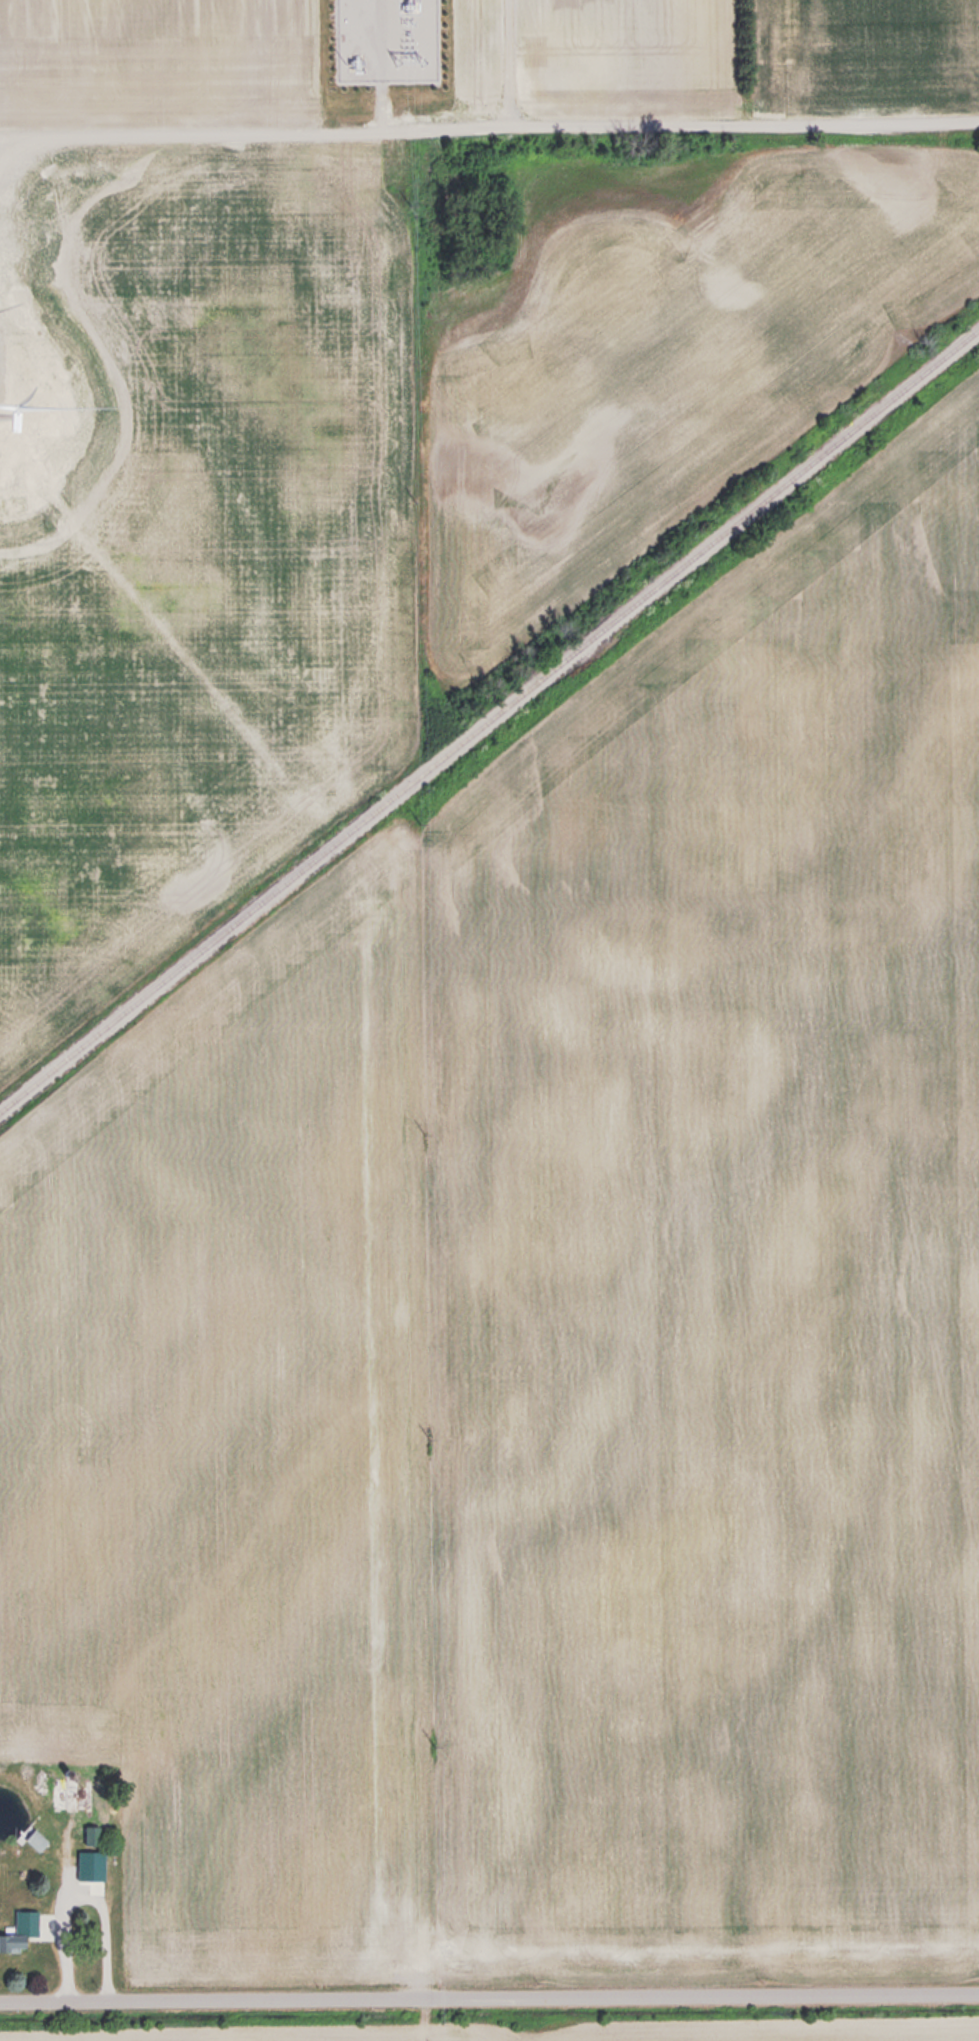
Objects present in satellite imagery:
power substation: (386, 39)
road: (511, 60)
road: (381, 100)
road: (489, 121)
power tower: (408, 199)
power tower: (411, 491)
railway: (489, 720)
power tower: (415, 814)
power tower: (422, 1128)
power tower: (428, 1434)
power tower: (435, 1742)
building: (76, 1792)
building: (95, 1843)
road: (83, 1895)
building: (14, 1942)
road: (489, 2000)

